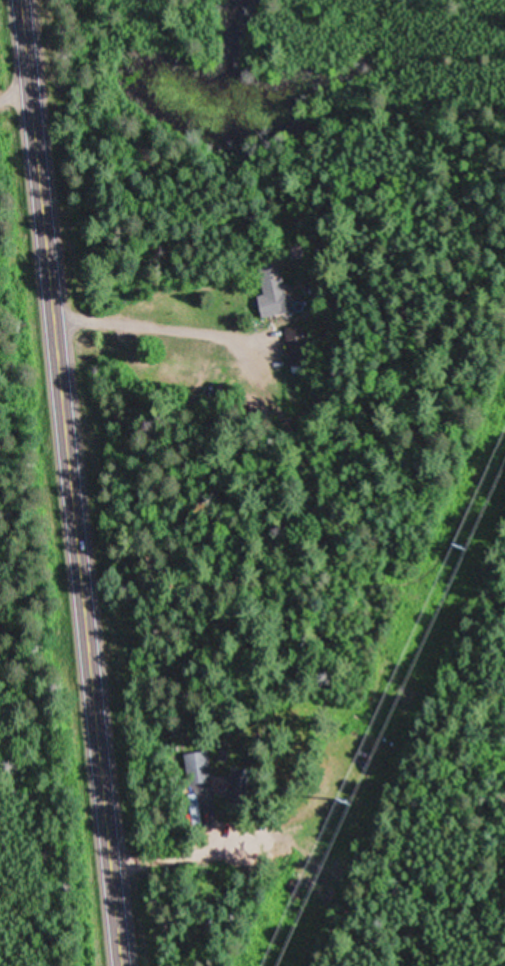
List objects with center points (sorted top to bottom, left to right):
building: (275, 288)
building: (298, 344)
road: (69, 483)
building: (199, 766)
building: (243, 784)
building: (196, 807)

